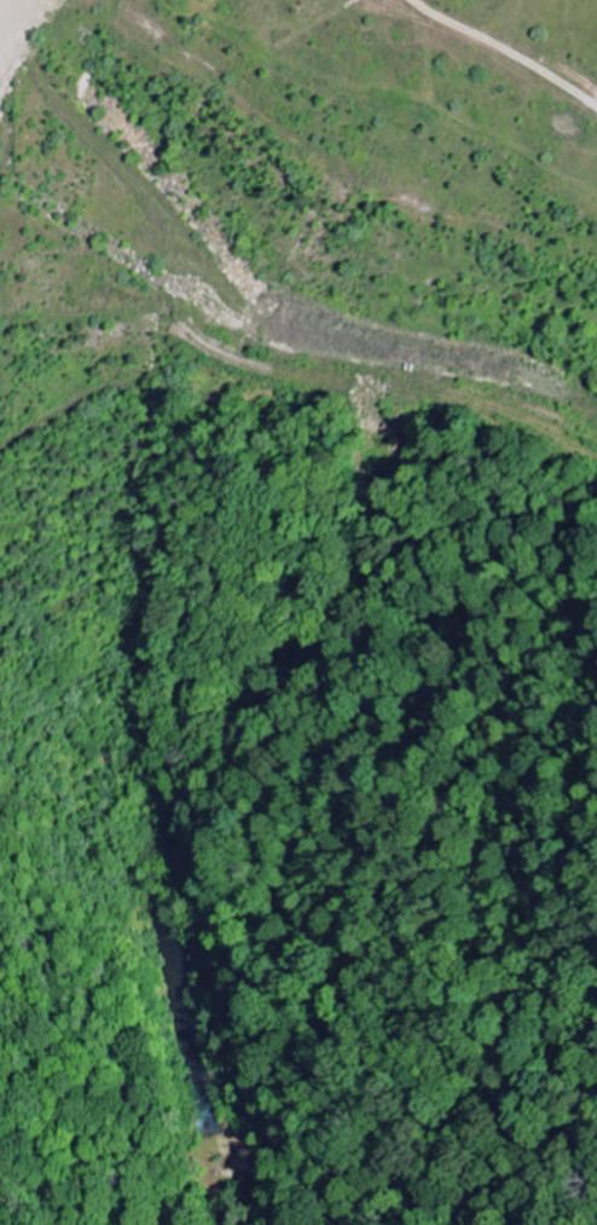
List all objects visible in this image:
road: (185, 1071)

